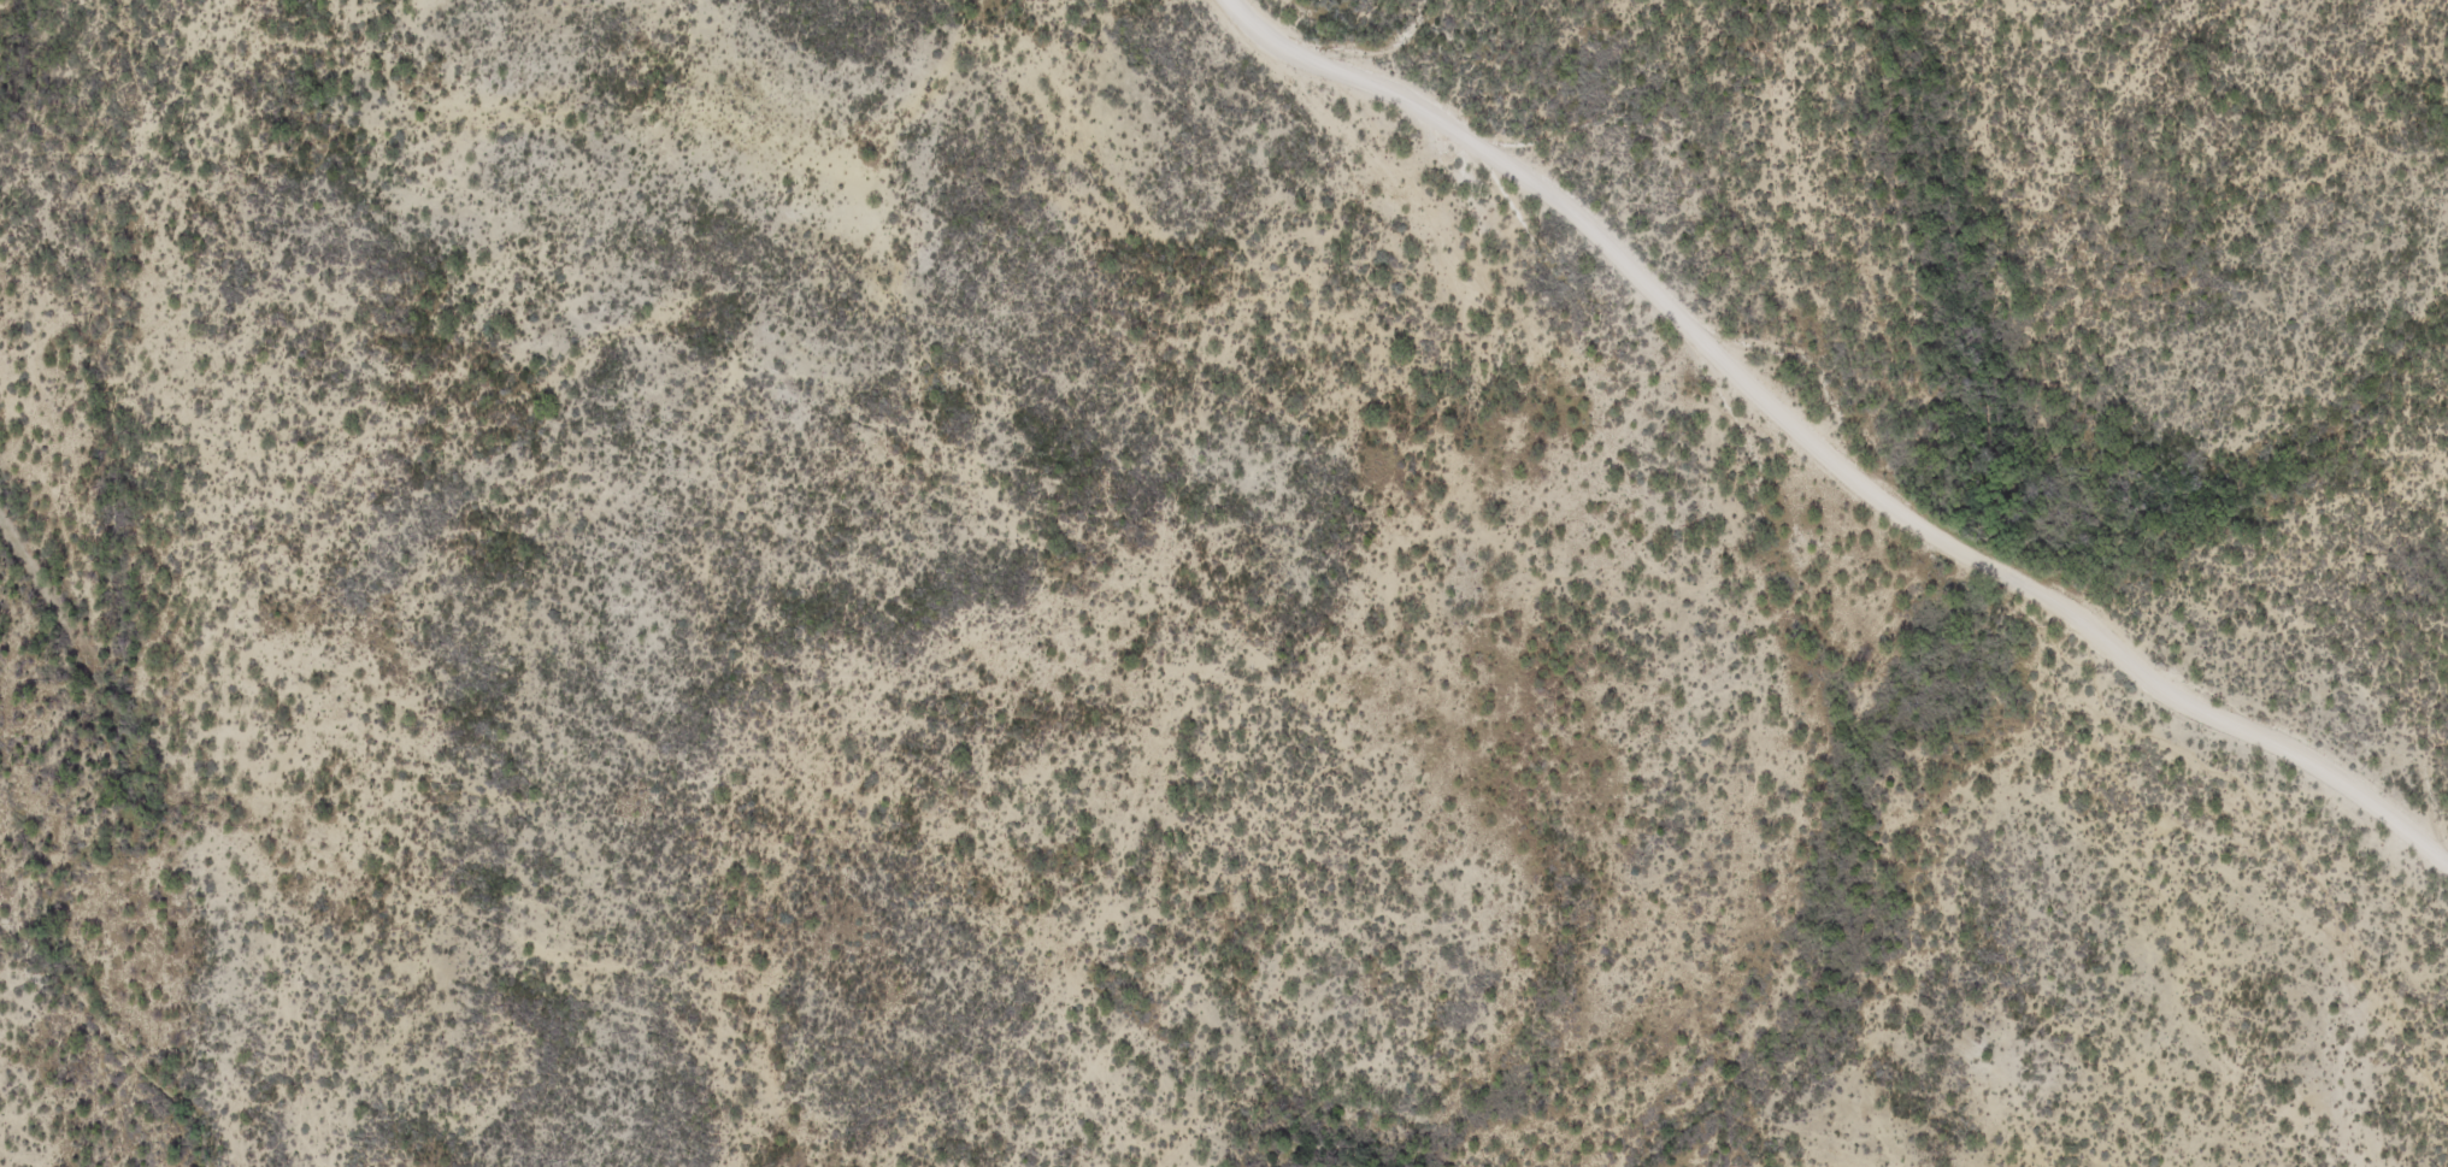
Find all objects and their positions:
road: (1823, 450)

